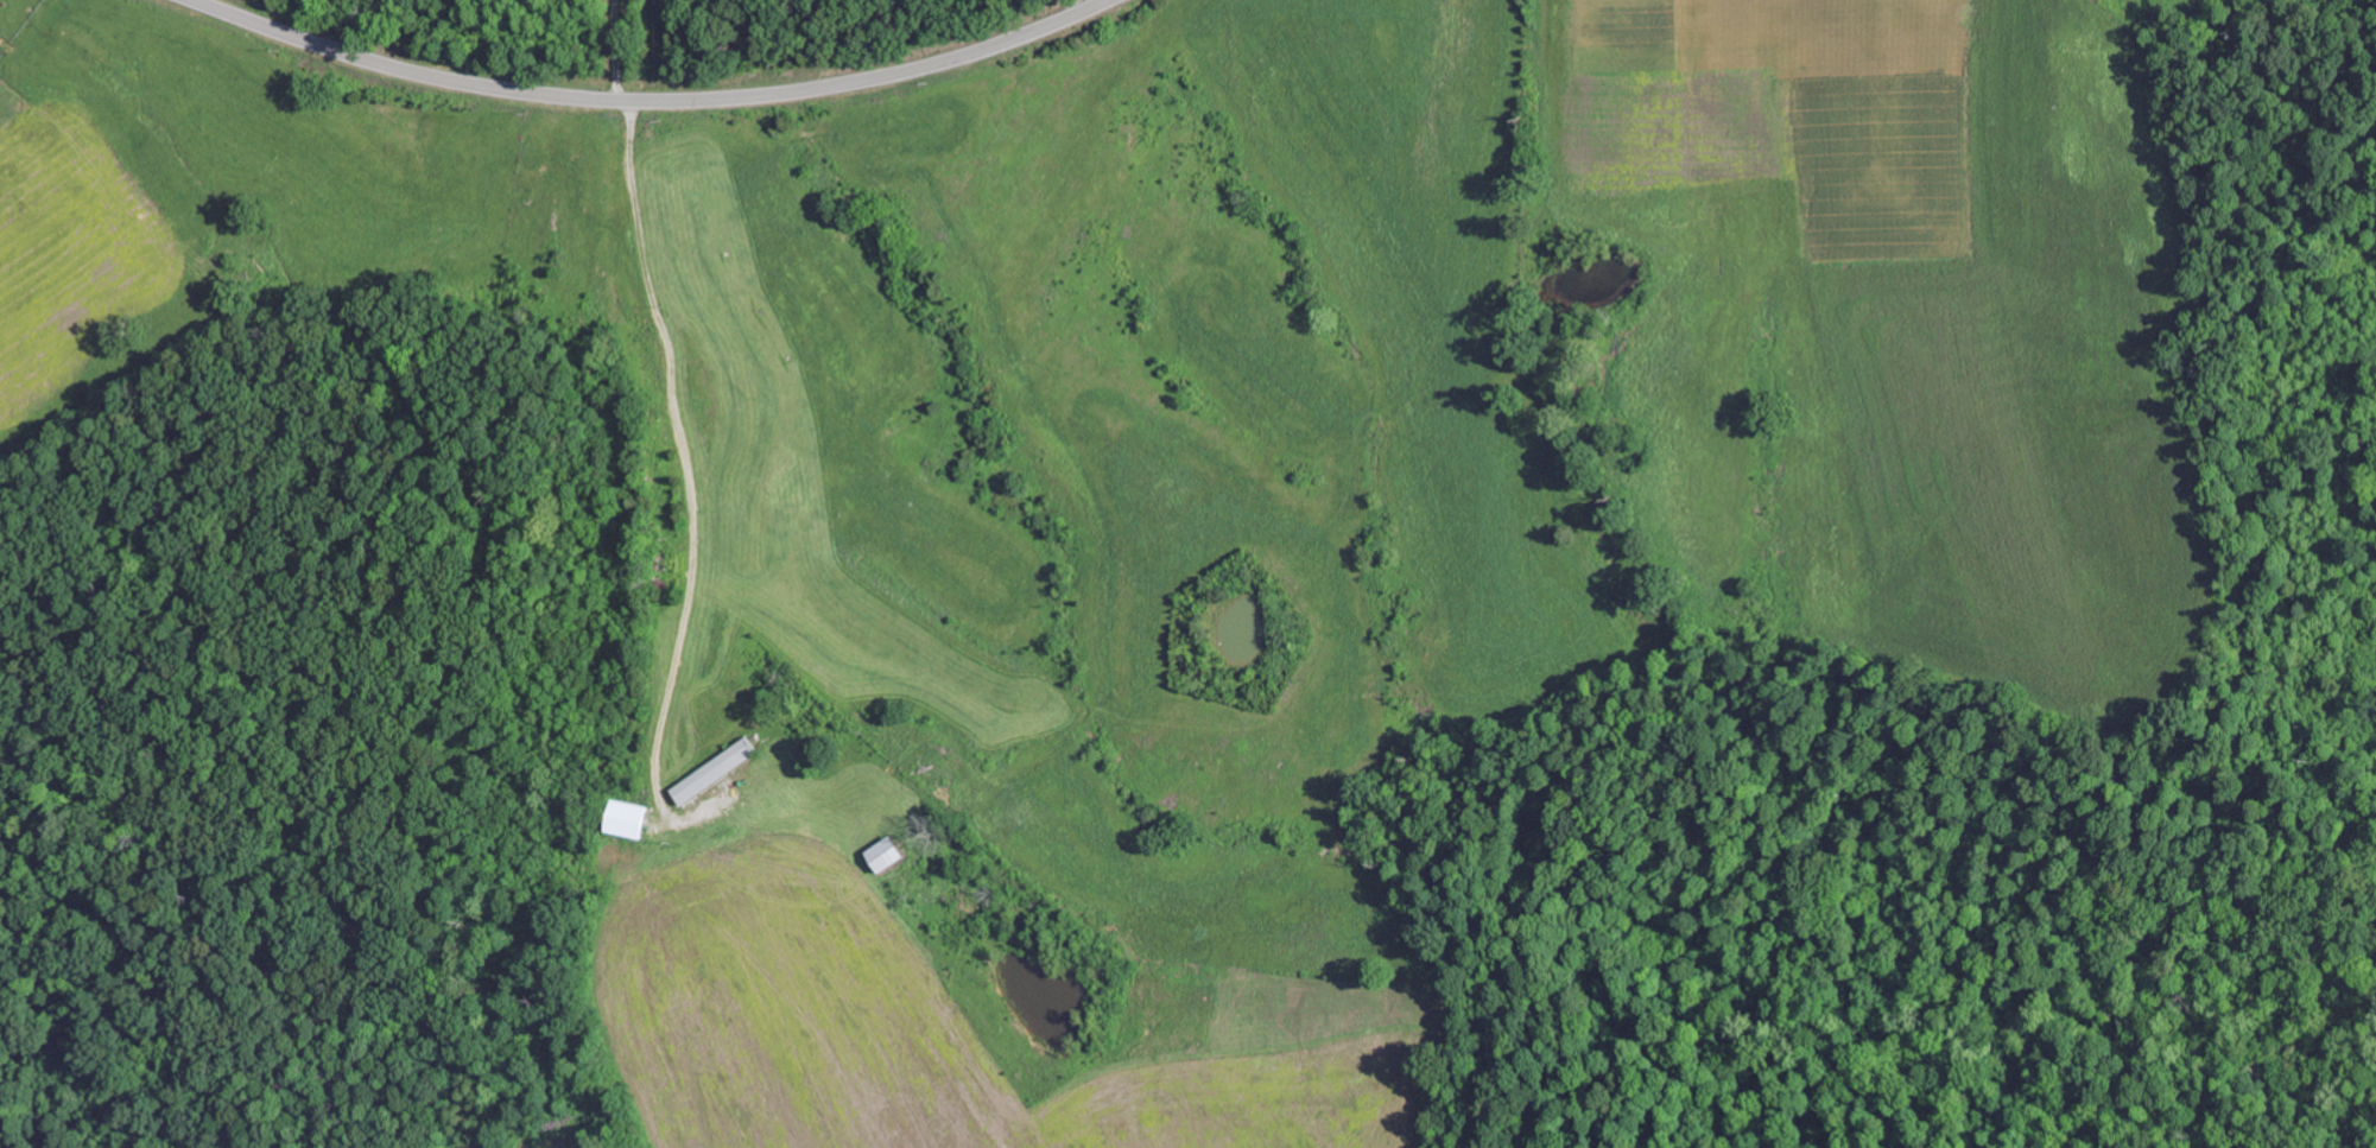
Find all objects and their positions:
road: (609, 49)
road: (647, 100)
road: (704, 469)
building: (710, 772)
building: (626, 819)
building: (881, 855)

